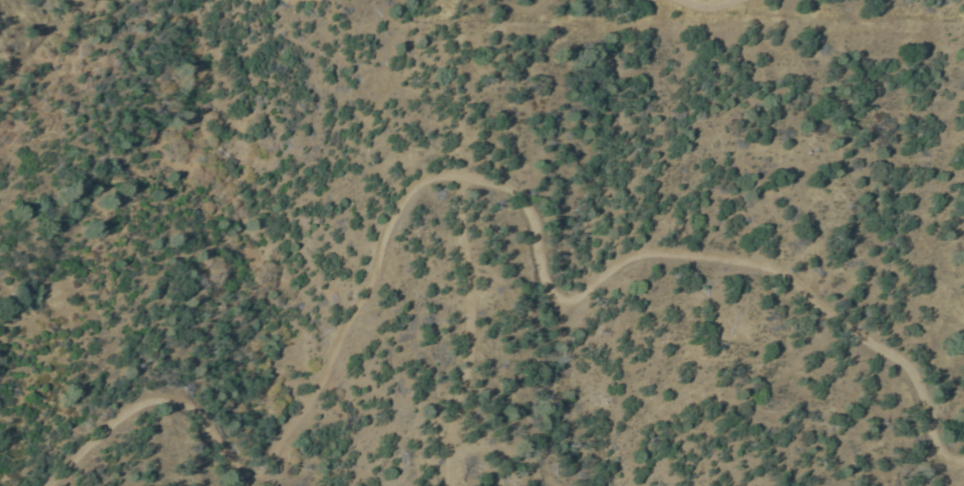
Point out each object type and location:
road: (722, 3)
road: (471, 181)
road: (465, 333)

